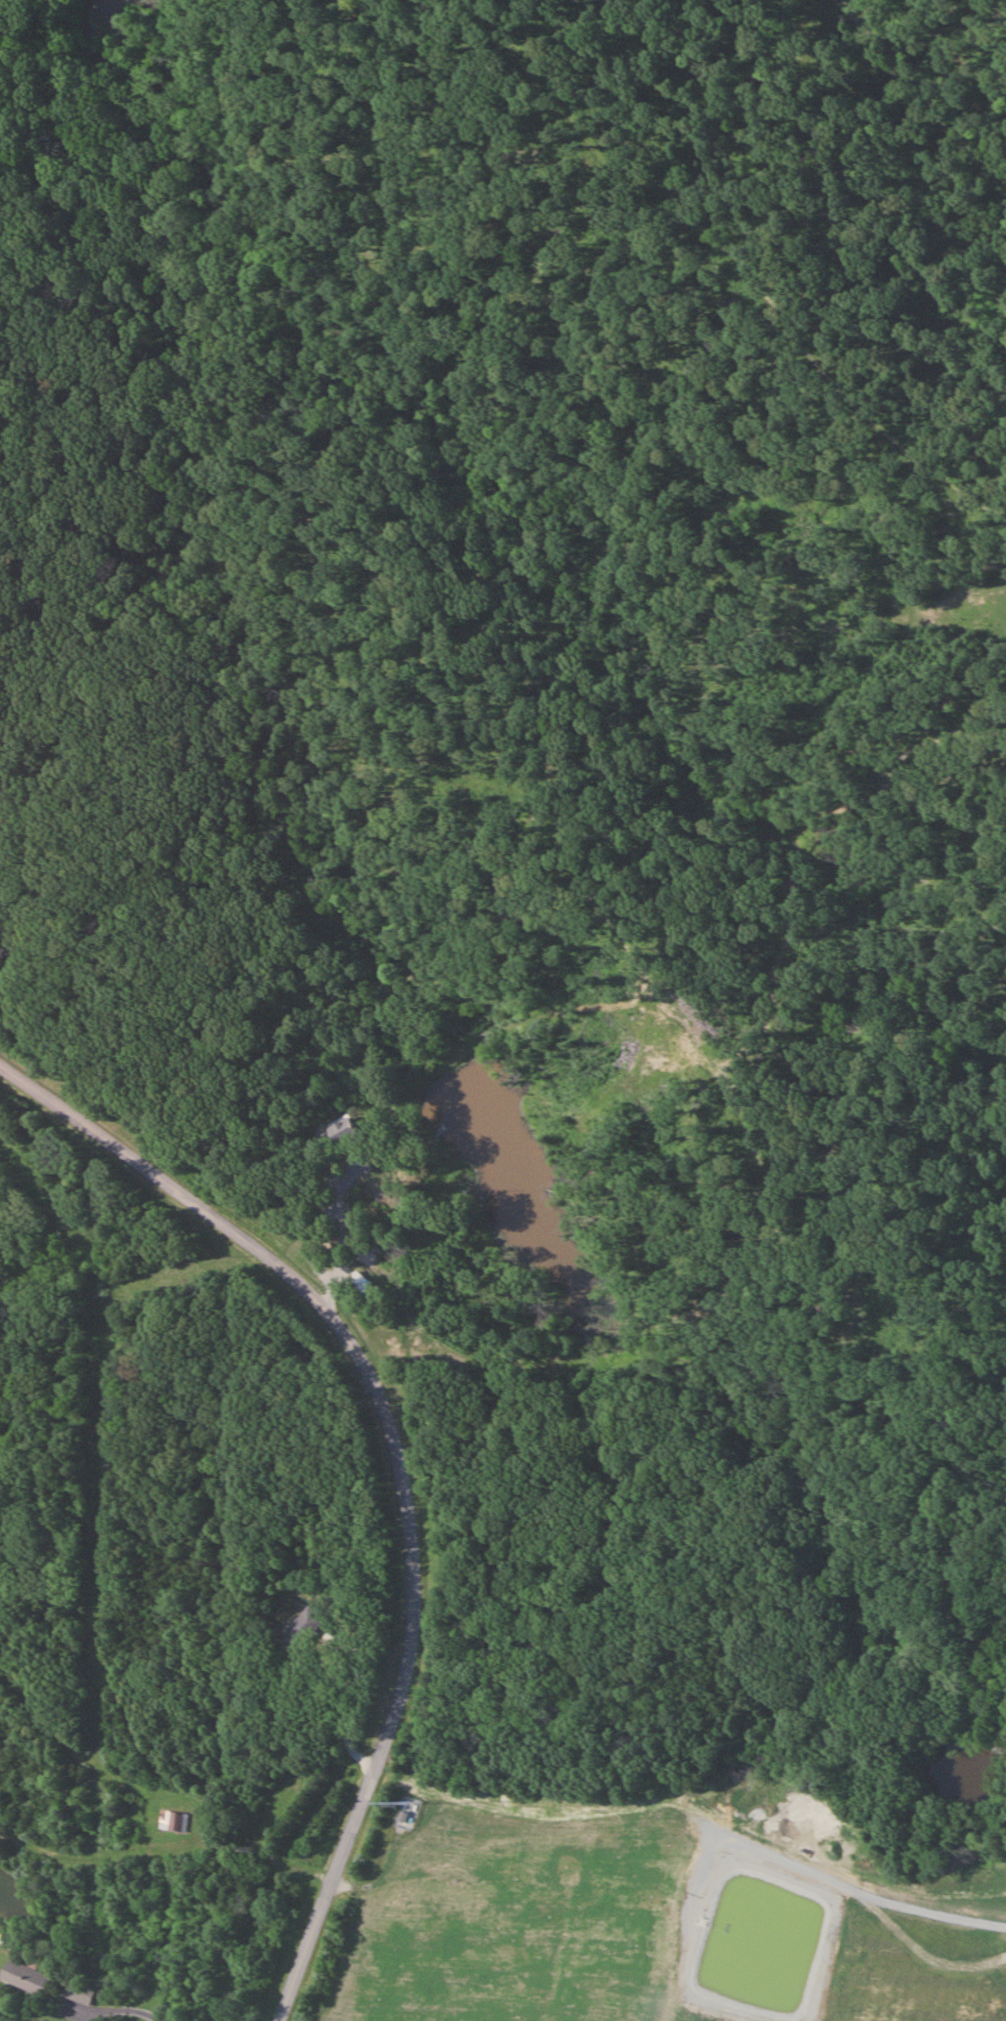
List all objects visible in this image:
building: (343, 1134)
road: (340, 1240)
building: (363, 1258)
building: (358, 1284)
road: (401, 1465)
building: (303, 1630)
road: (271, 1815)
building: (170, 1822)
road: (861, 1894)
building: (23, 1977)
building: (78, 1993)
road: (107, 2010)

